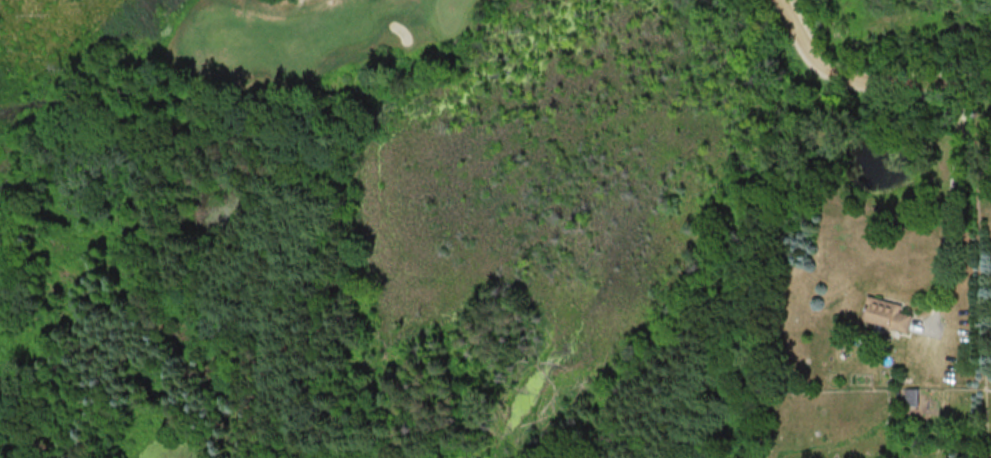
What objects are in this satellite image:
park: (457, 47)
road: (867, 81)
road: (948, 197)
building: (886, 313)
building: (910, 396)

